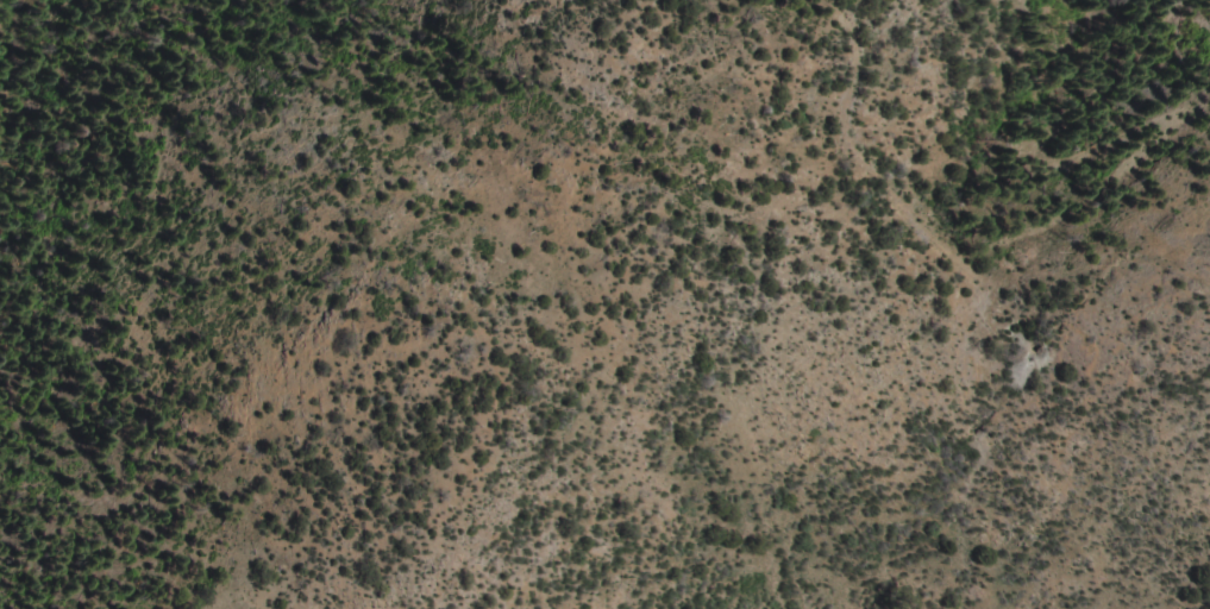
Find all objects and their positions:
road: (1076, 205)

